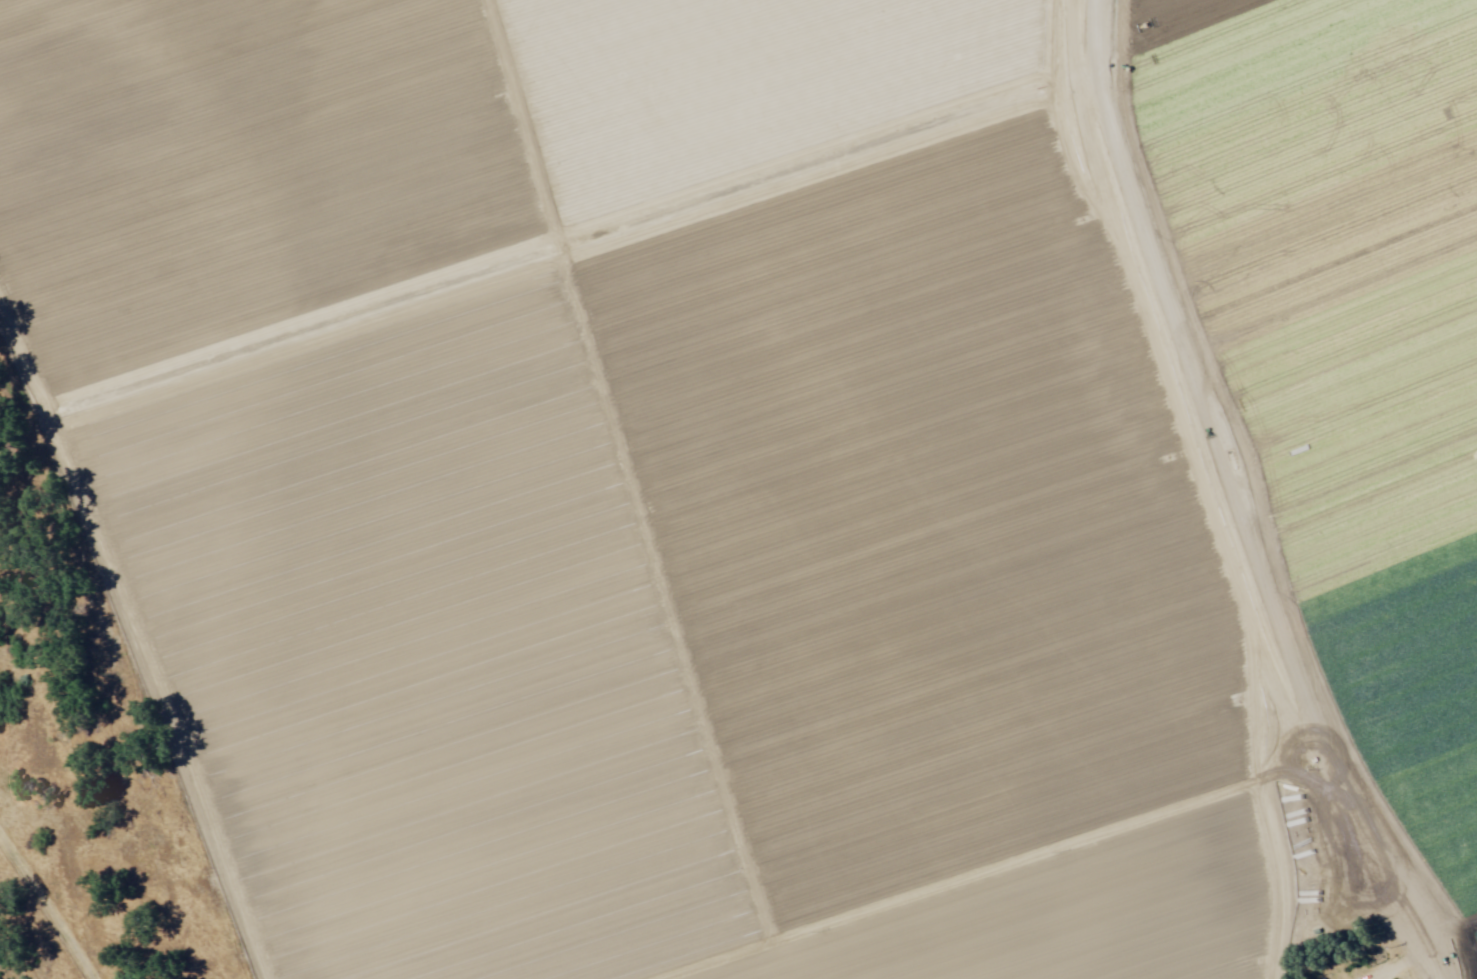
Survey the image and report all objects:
road: (569, 271)
road: (1186, 375)
crop: (776, 473)
road: (136, 638)
road: (1363, 864)
road: (1017, 890)

